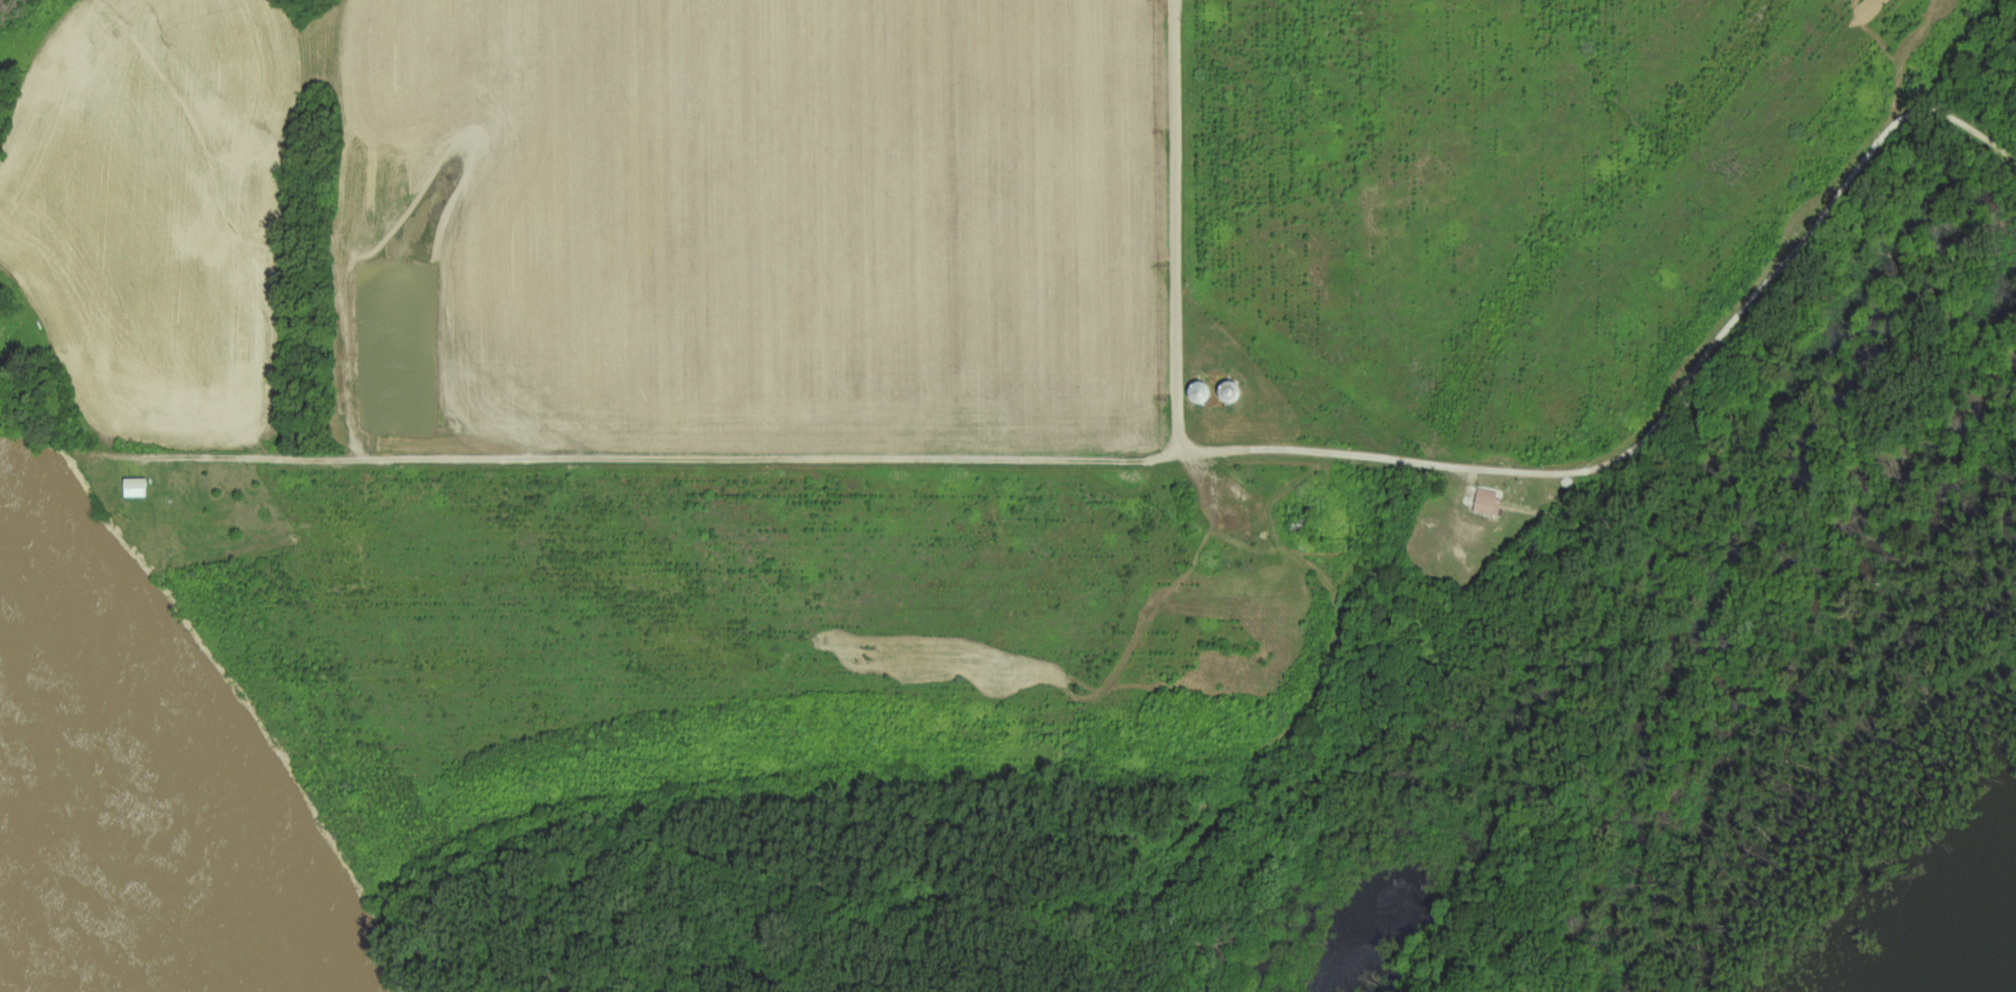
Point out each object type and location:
road: (1173, 223)
road: (337, 229)
building: (1199, 392)
building: (1229, 393)
road: (1142, 459)
building: (135, 487)
building: (1489, 502)
building: (1300, 524)
building: (225, 554)
river: (31, 944)

